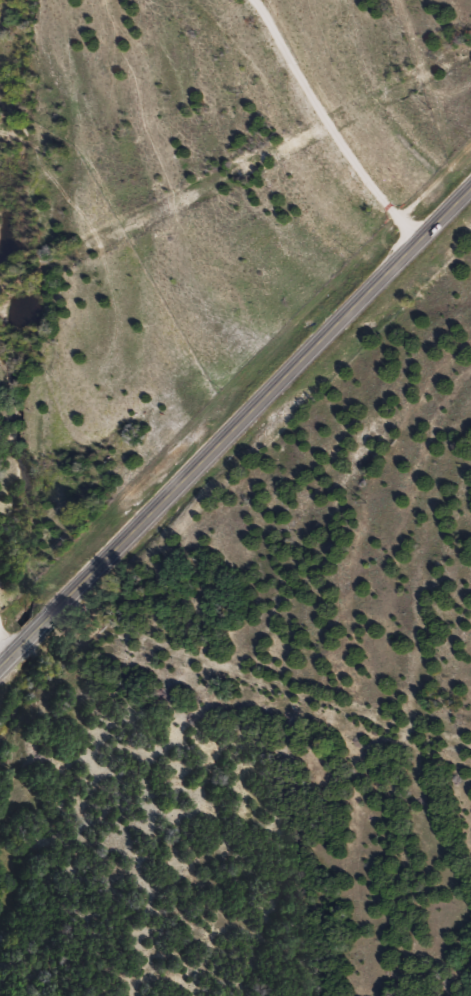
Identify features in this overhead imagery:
road: (235, 427)
road: (269, 695)

